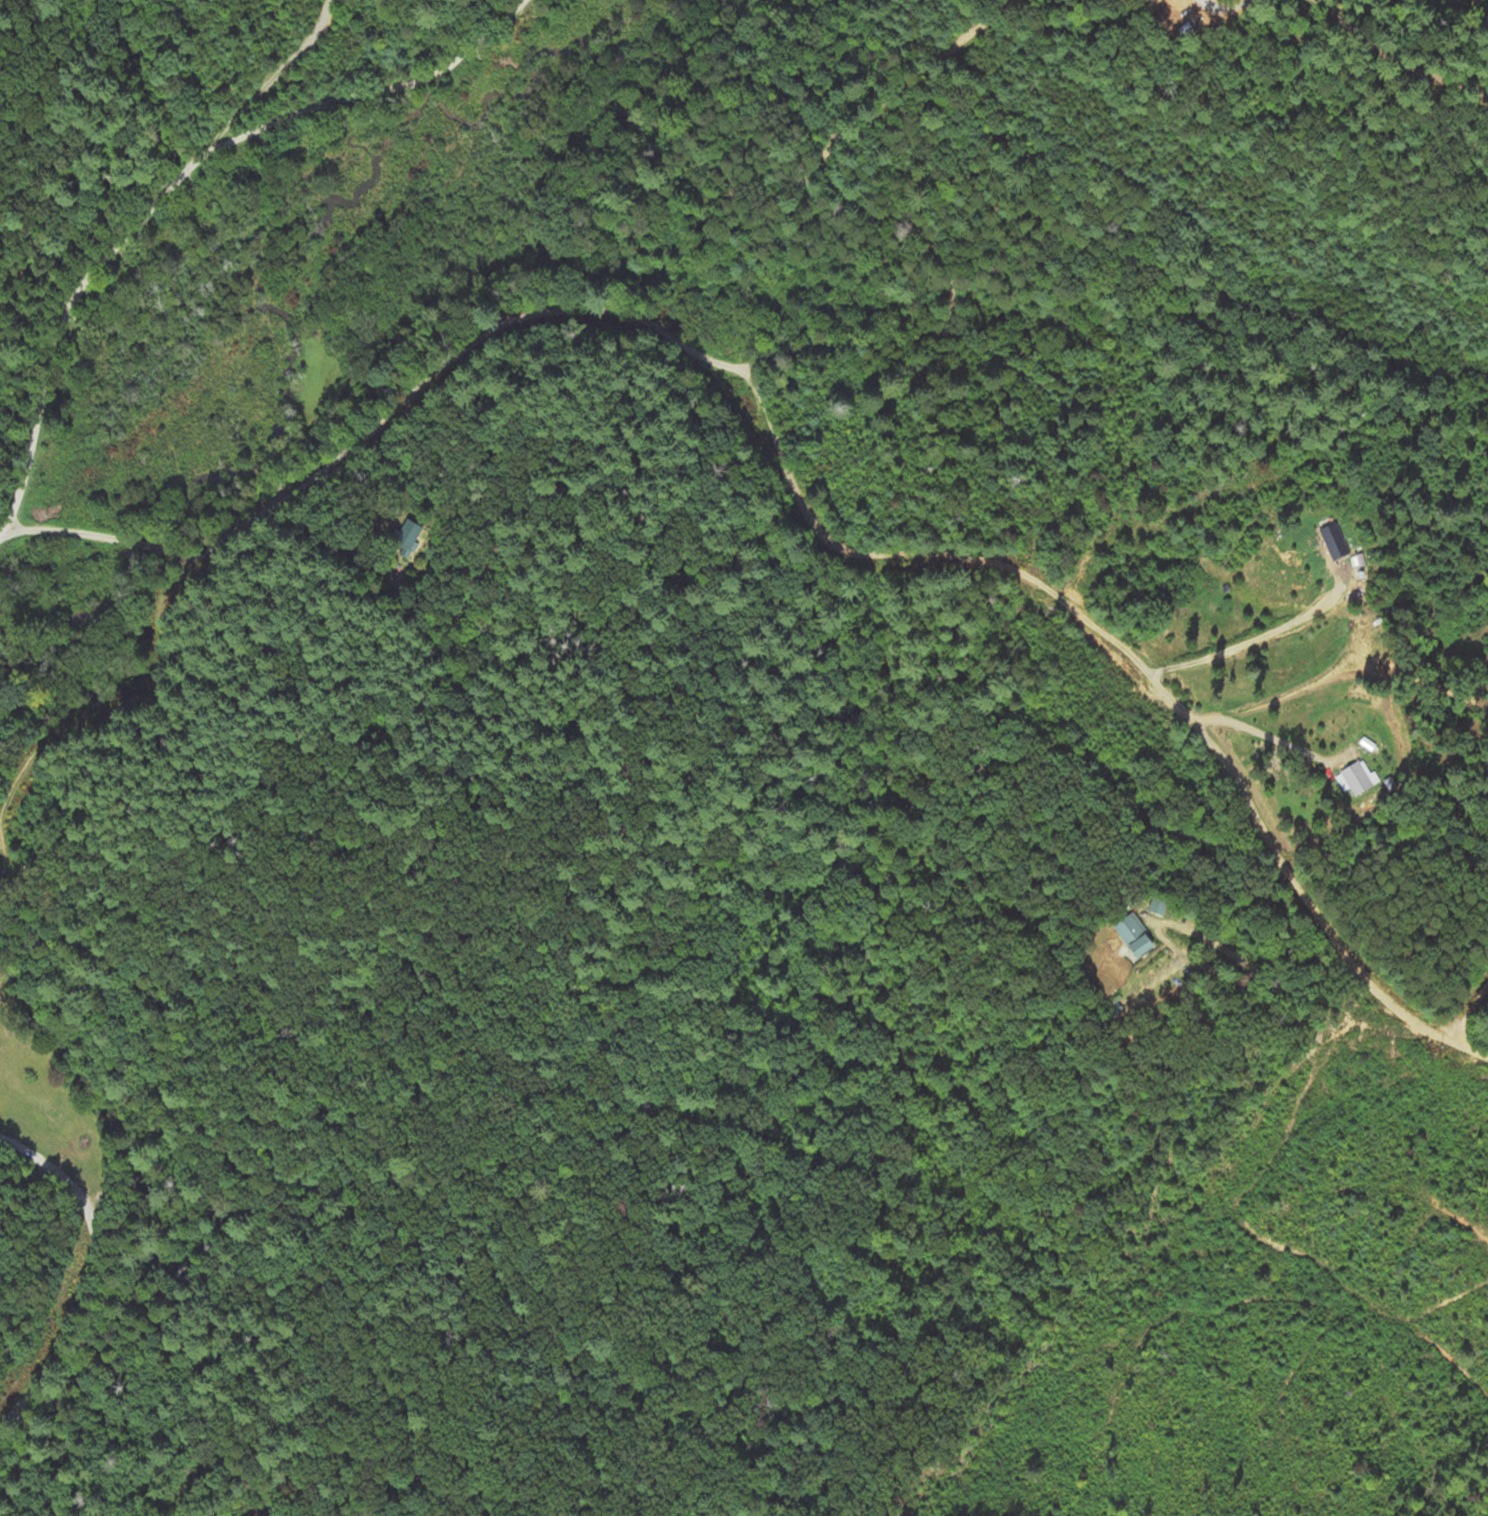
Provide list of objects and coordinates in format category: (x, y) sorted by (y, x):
road: (1394, 59)
road: (174, 181)
road: (882, 230)
road: (376, 424)
building: (407, 538)
building: (1333, 541)
road: (1136, 662)
building: (1353, 777)
building: (1156, 907)
building: (1132, 935)
road: (93, 1268)

